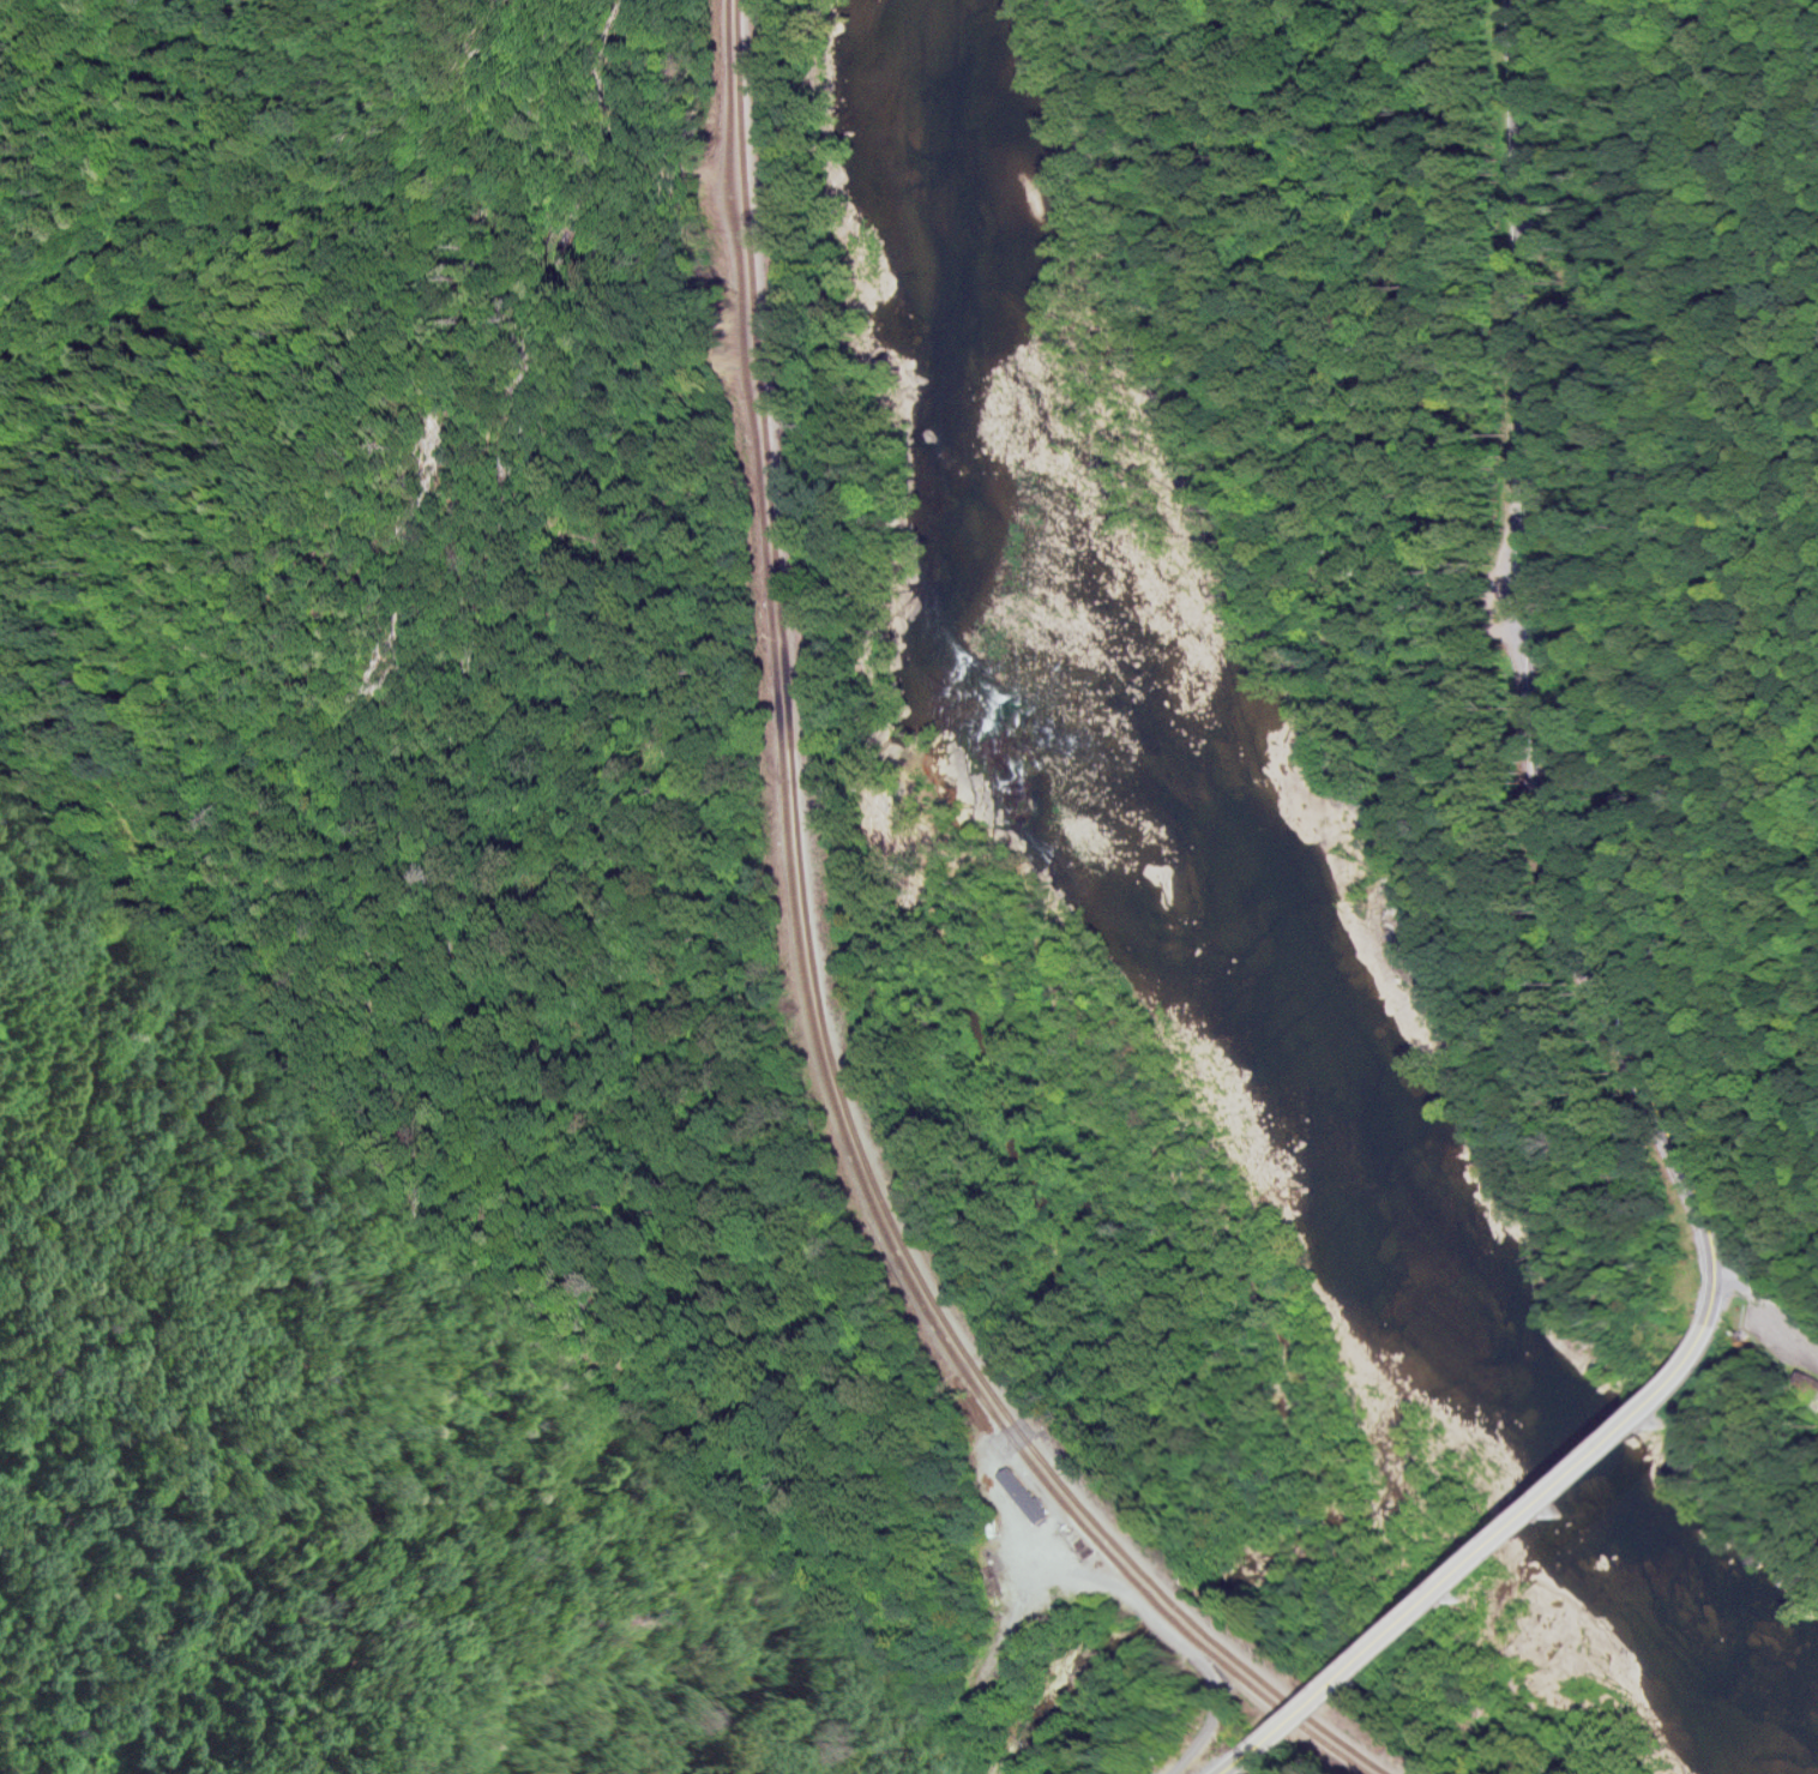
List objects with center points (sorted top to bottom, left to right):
road: (143, 188)
road: (1531, 678)
road: (112, 926)
river: (1199, 966)
railway: (801, 988)
railway: (813, 992)
road: (1759, 1313)
parking lot: (1783, 1339)
road: (456, 1487)
road: (1491, 1547)
road: (1233, 1761)

